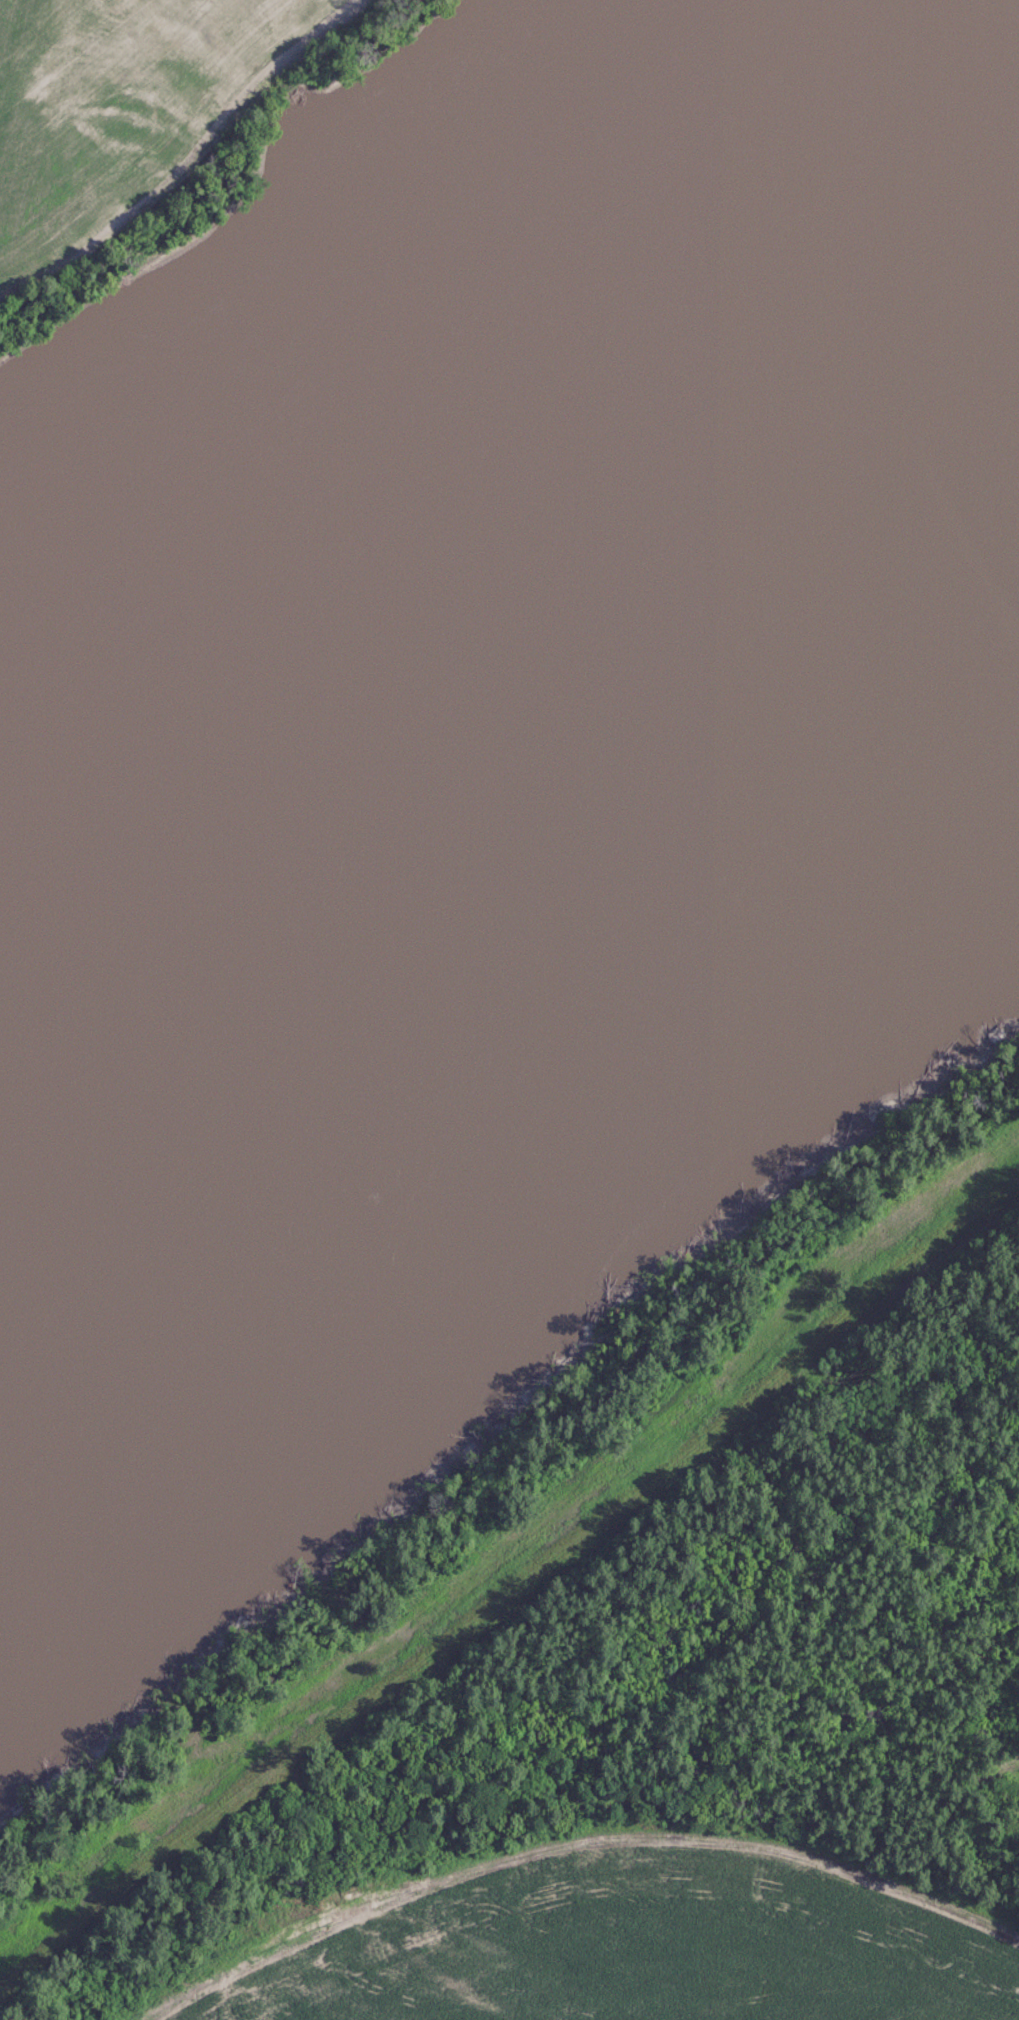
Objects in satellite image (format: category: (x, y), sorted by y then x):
road: (1, 314)
river: (509, 676)

